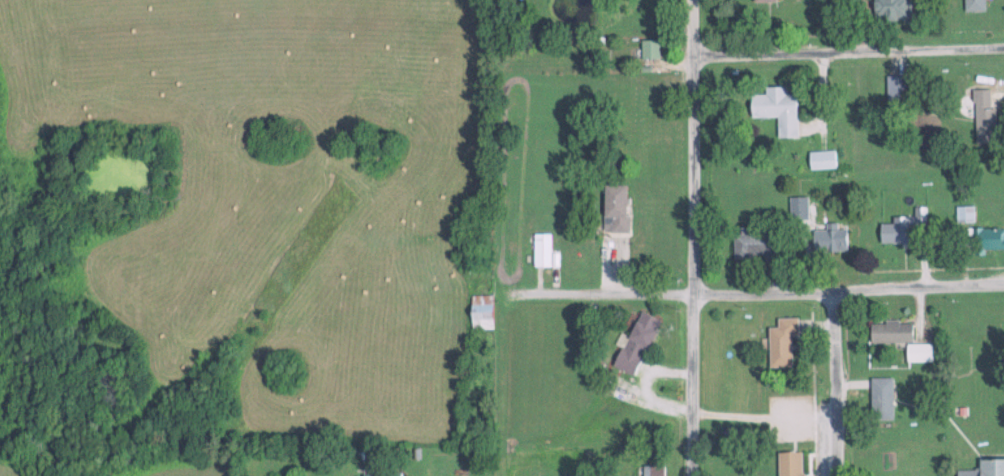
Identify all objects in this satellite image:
building: (765, 0)
building: (971, 5)
building: (890, 10)
building: (648, 50)
road: (847, 51)
building: (894, 89)
building: (775, 109)
building: (982, 116)
building: (821, 160)
building: (798, 208)
building: (612, 209)
building: (962, 213)
building: (904, 228)
road: (694, 237)
building: (988, 239)
building: (828, 240)
building: (754, 243)
building: (540, 251)
road: (756, 290)
building: (479, 312)
building: (993, 337)
building: (899, 338)
building: (634, 342)
building: (781, 343)
road: (834, 382)
building: (880, 399)
building: (787, 463)
building: (984, 468)
building: (652, 470)
building: (379, 475)

